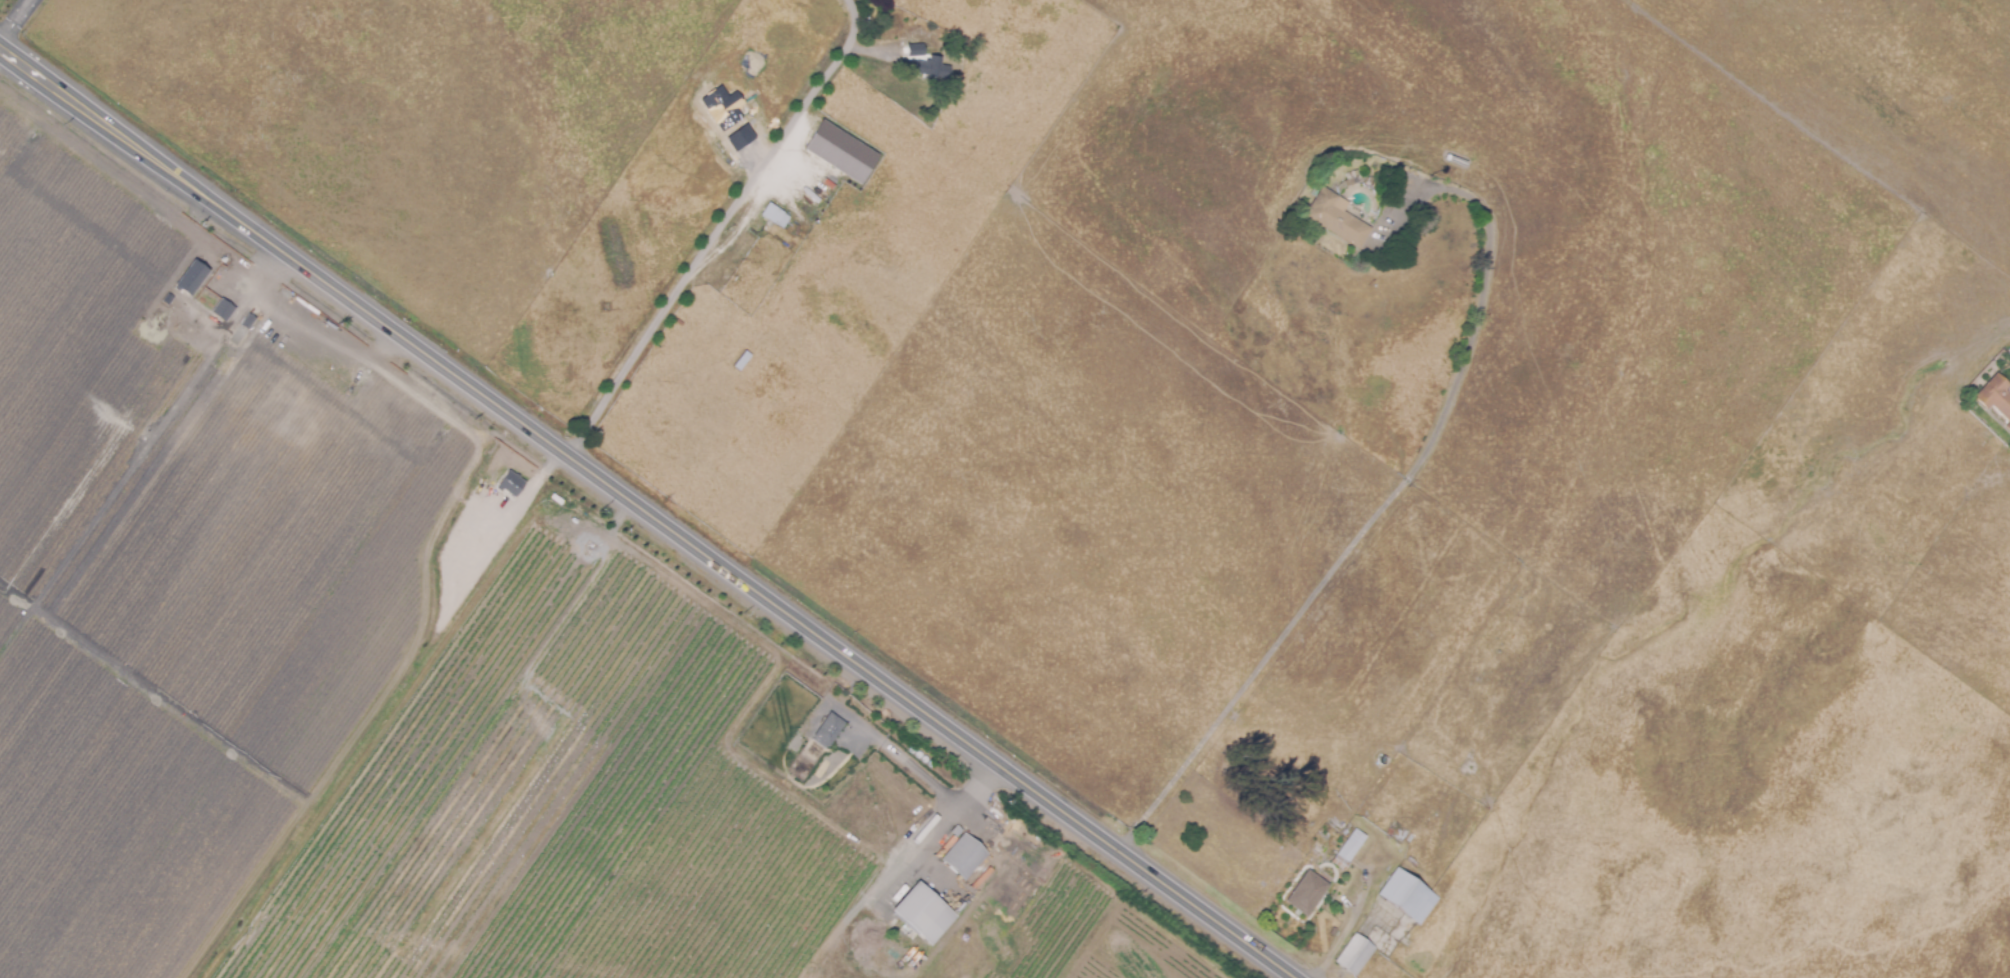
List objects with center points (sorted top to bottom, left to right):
road: (15, 22)
road: (50, 35)
building: (933, 57)
building: (930, 67)
building: (720, 107)
building: (738, 137)
building: (839, 151)
building: (775, 216)
building: (1336, 217)
road: (723, 226)
building: (191, 279)
building: (223, 310)
building: (249, 321)
building: (742, 361)
building: (269, 365)
building: (1996, 397)
building: (305, 431)
building: (512, 484)
road: (1385, 502)
building: (488, 503)
road: (652, 510)
road: (395, 700)
building: (828, 730)
road: (930, 778)
building: (1363, 810)
building: (1008, 811)
building: (956, 831)
building: (1401, 834)
building: (949, 836)
road: (911, 846)
building: (1349, 849)
building: (964, 856)
building: (1307, 893)
building: (1408, 896)
building: (922, 914)
road: (1343, 936)
building: (1355, 954)

